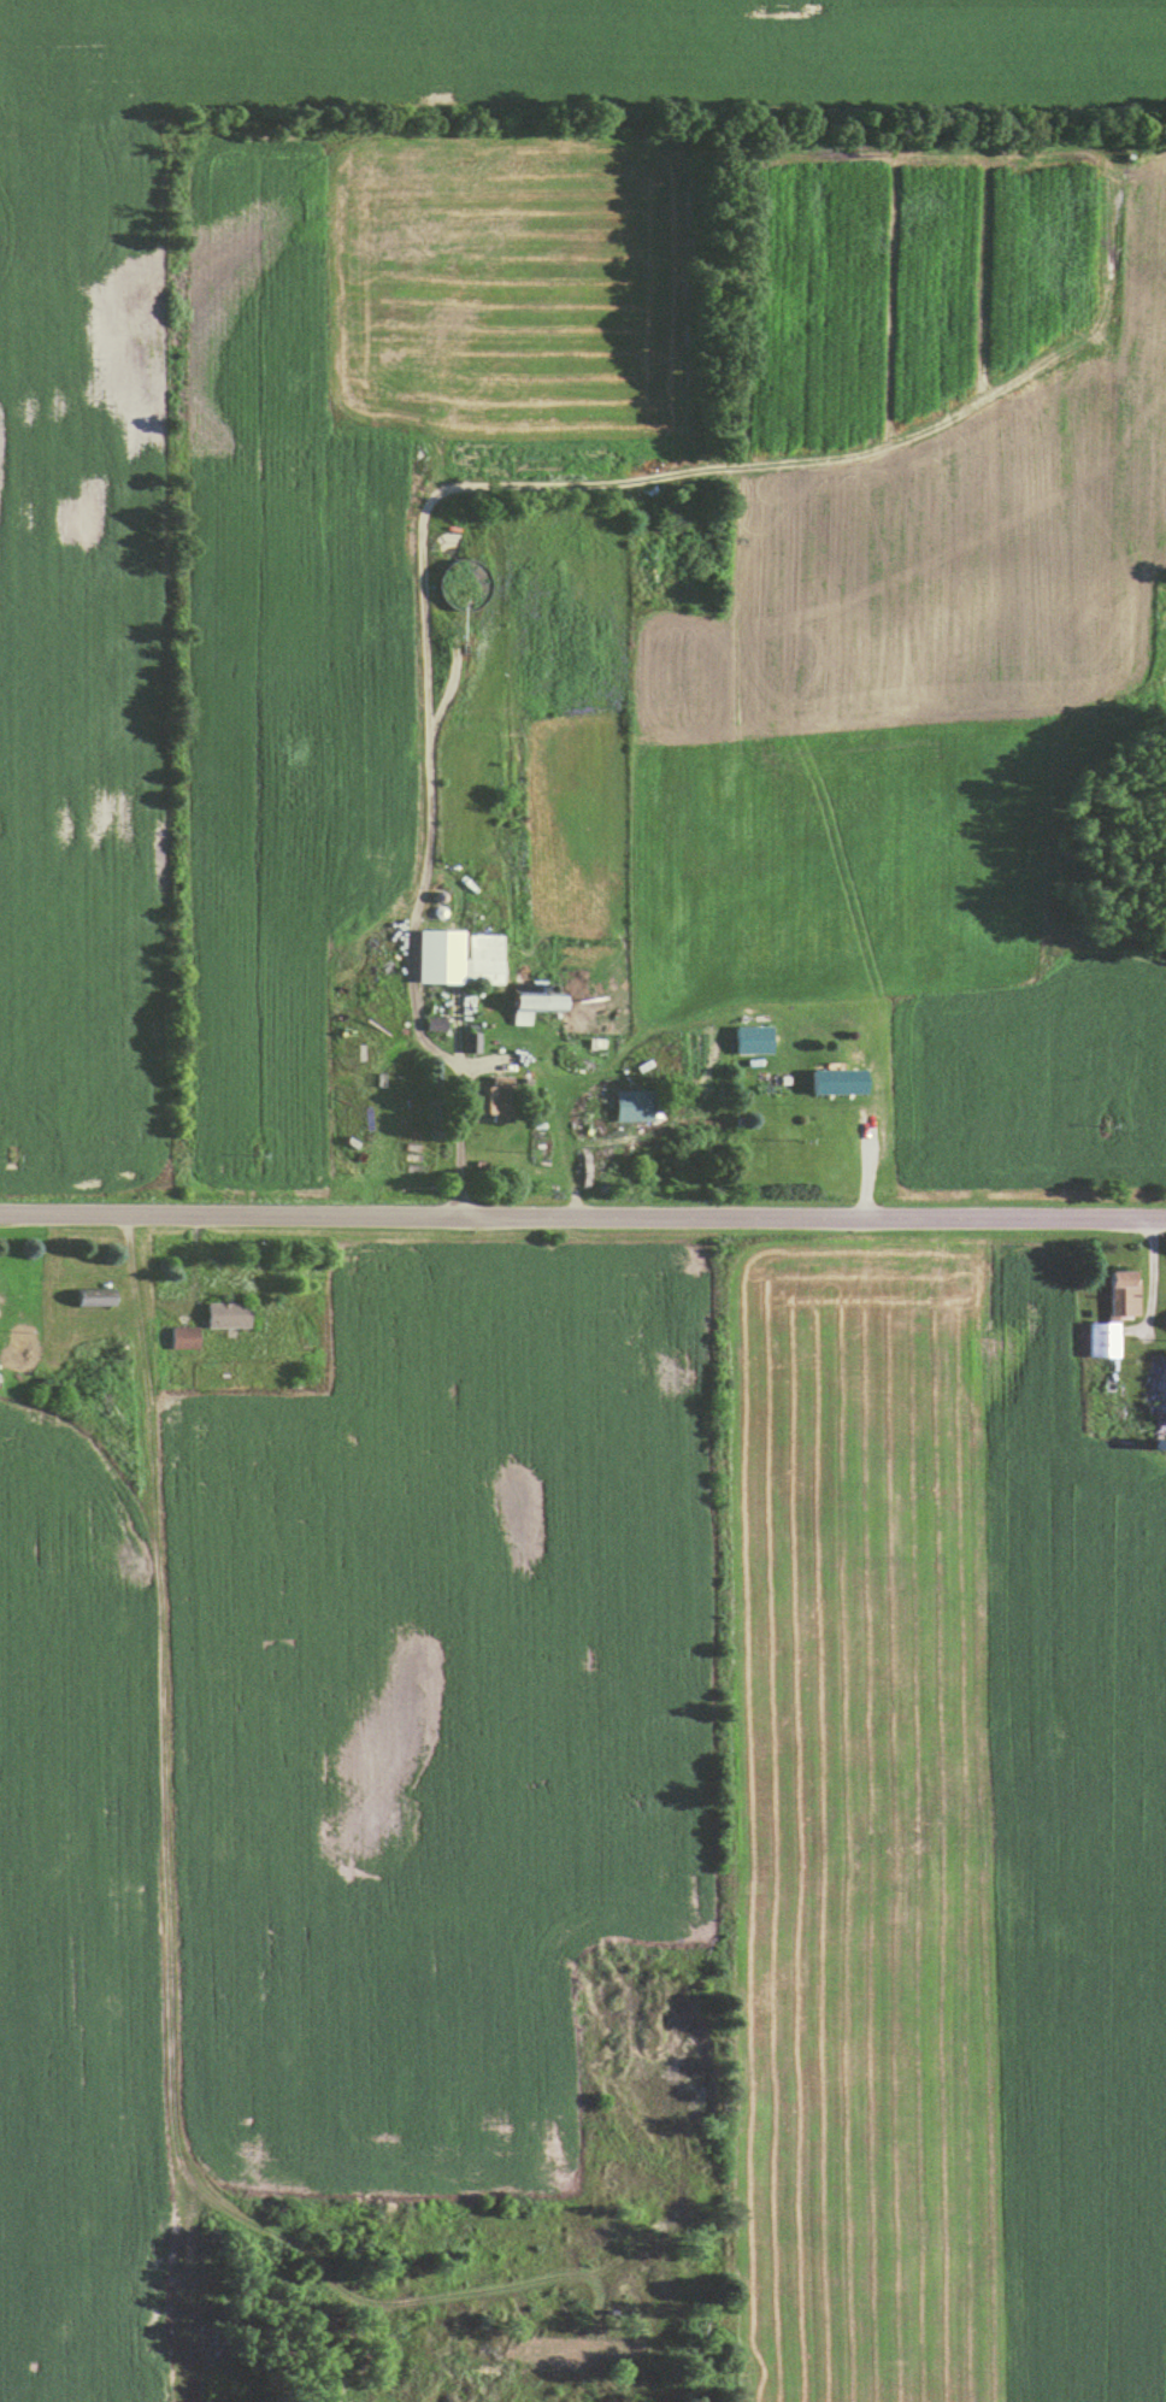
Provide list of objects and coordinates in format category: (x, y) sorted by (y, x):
building: (458, 960)
building: (532, 1007)
building: (771, 1083)
building: (834, 1084)
road: (460, 1096)
building: (490, 1103)
building: (635, 1106)
road: (866, 1158)
road: (583, 1220)
road: (1149, 1274)
building: (1120, 1297)
building: (90, 1300)
building: (224, 1317)
building: (181, 1340)
building: (1099, 1343)
building: (1154, 1401)

